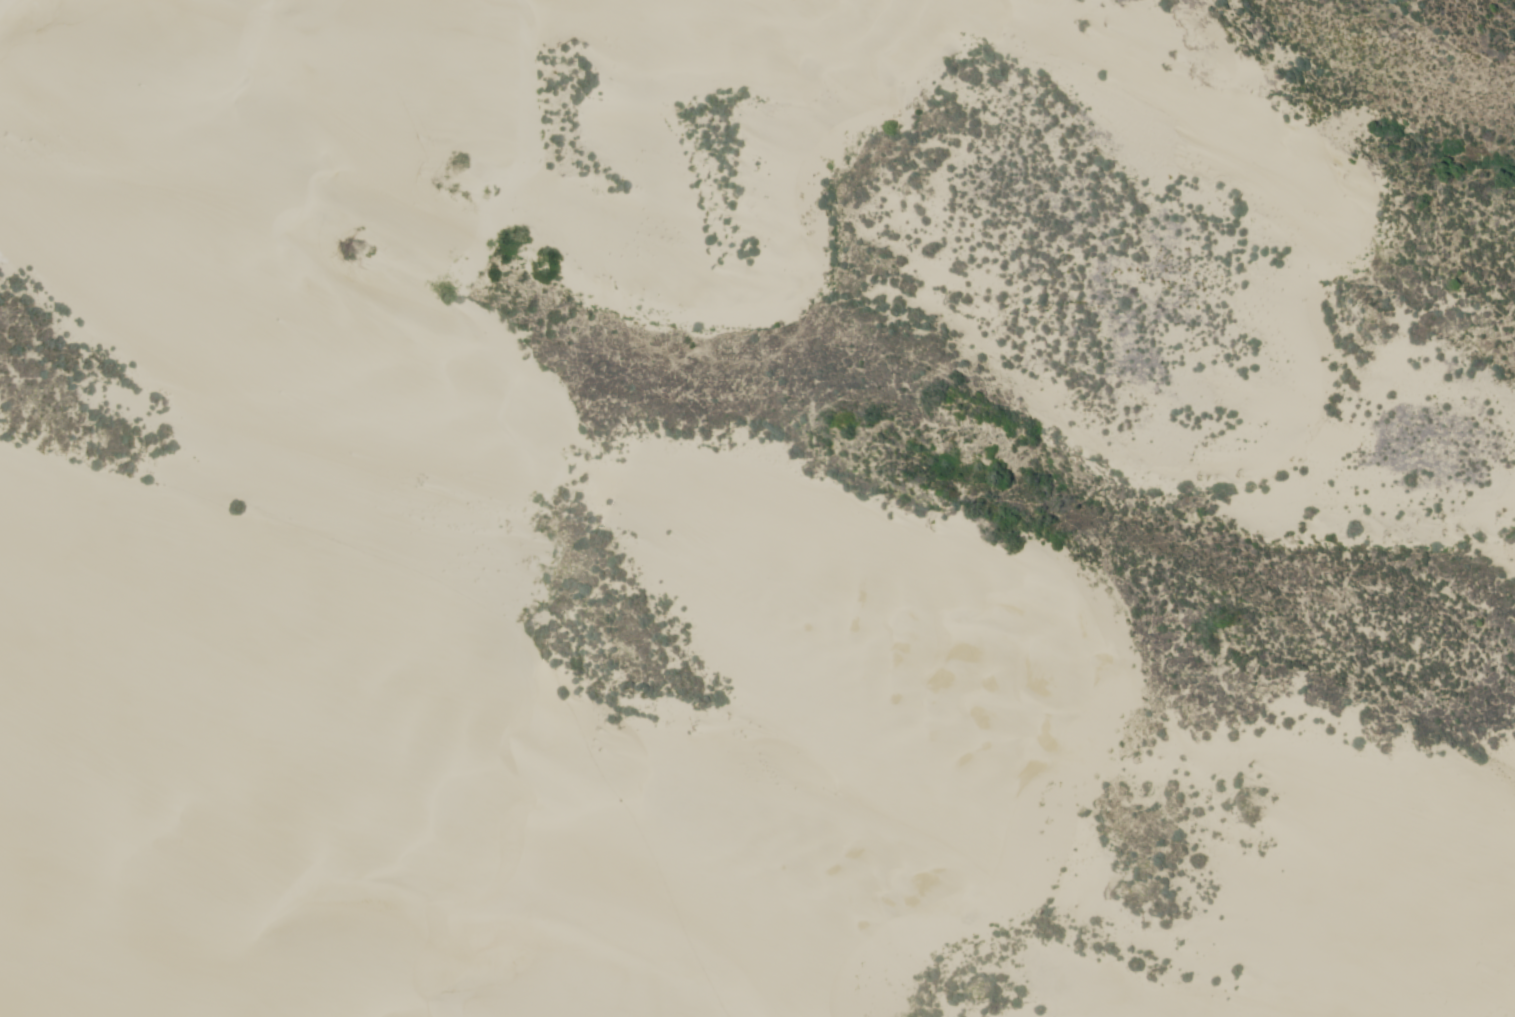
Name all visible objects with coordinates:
park: (744, 517)

